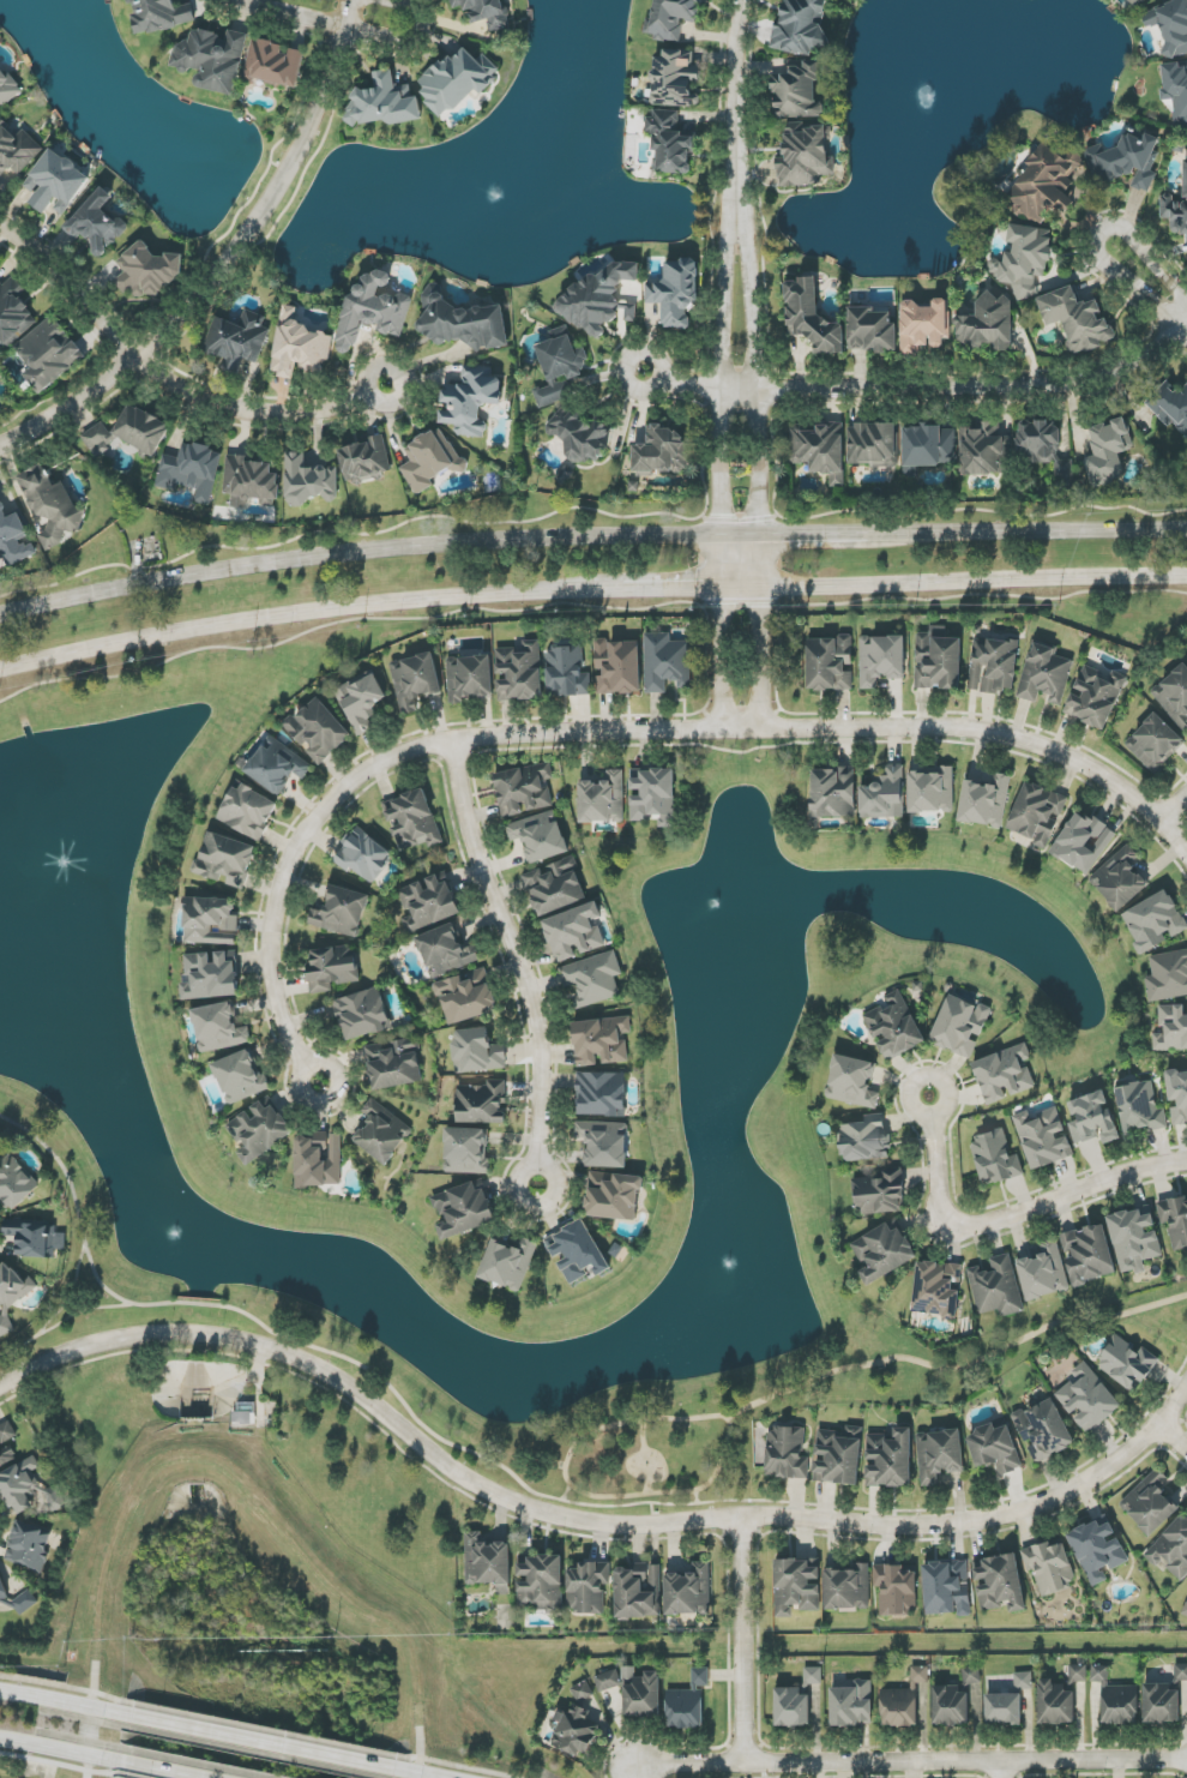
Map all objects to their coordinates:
building: (1137, 2)
building: (483, 12)
building: (159, 14)
building: (673, 18)
building: (1170, 25)
building: (800, 26)
road: (351, 31)
building: (212, 59)
building: (273, 64)
building: (458, 79)
building: (675, 79)
road: (734, 82)
building: (1176, 89)
building: (797, 90)
building: (382, 102)
building: (670, 142)
building: (17, 150)
building: (805, 156)
building: (1126, 161)
building: (1047, 182)
building: (56, 184)
building: (1176, 209)
building: (97, 223)
road: (1093, 244)
building: (1024, 259)
road: (228, 264)
building: (147, 271)
building: (629, 293)
building: (676, 293)
building: (599, 299)
building: (373, 310)
building: (13, 313)
building: (812, 317)
building: (1077, 319)
building: (463, 322)
building: (988, 324)
building: (924, 325)
building: (872, 330)
building: (237, 340)
building: (300, 346)
building: (49, 354)
building: (559, 366)
road: (405, 374)
road: (159, 376)
road: (757, 377)
road: (663, 379)
road: (933, 388)
building: (471, 400)
building: (1171, 407)
building: (131, 432)
building: (579, 438)
building: (873, 445)
road: (721, 447)
building: (928, 447)
building: (820, 449)
building: (1044, 449)
building: (984, 450)
building: (661, 451)
building: (1108, 452)
building: (366, 459)
building: (432, 459)
building: (192, 470)
building: (252, 481)
building: (309, 481)
building: (52, 506)
road: (1026, 533)
road: (793, 536)
road: (357, 554)
road: (972, 582)
road: (697, 590)
road: (314, 613)
road: (355, 621)
road: (760, 659)
building: (881, 660)
building: (939, 660)
building: (667, 662)
building: (830, 663)
building: (994, 666)
building: (617, 667)
building: (520, 672)
building: (567, 672)
building: (1046, 674)
building: (470, 678)
building: (416, 680)
building: (1096, 696)
building: (1174, 696)
building: (362, 701)
building: (318, 731)
road: (994, 734)
building: (1155, 743)
road: (385, 759)
building: (277, 765)
building: (524, 789)
building: (932, 791)
building: (833, 792)
building: (884, 794)
building: (653, 795)
building: (603, 799)
building: (986, 801)
road: (1173, 809)
building: (248, 811)
building: (1037, 813)
building: (540, 836)
building: (1083, 842)
building: (363, 855)
building: (225, 860)
building: (1120, 879)
fountain: (60, 882)
building: (555, 887)
building: (429, 902)
building: (342, 912)
fountain: (736, 913)
building: (210, 920)
building: (1155, 921)
building: (574, 932)
building: (446, 951)
road: (518, 960)
building: (332, 968)
building: (211, 975)
building: (1168, 977)
building: (593, 979)
building: (466, 996)
building: (363, 1014)
building: (960, 1026)
building: (894, 1027)
building: (219, 1028)
building: (1171, 1028)
building: (602, 1041)
building: (477, 1051)
building: (394, 1063)
building: (1005, 1074)
building: (241, 1076)
building: (852, 1082)
building: (602, 1094)
building: (1177, 1097)
building: (482, 1103)
building: (1139, 1109)
building: (1092, 1119)
building: (260, 1130)
building: (381, 1133)
building: (1043, 1137)
building: (866, 1139)
building: (604, 1143)
building: (466, 1151)
building: (996, 1158)
building: (319, 1160)
building: (16, 1183)
building: (881, 1194)
building: (614, 1196)
building: (464, 1209)
road: (1008, 1215)
fountain: (161, 1218)
building: (1175, 1220)
building: (36, 1238)
building: (1134, 1238)
building: (884, 1251)
building: (578, 1253)
building: (1087, 1254)
building: (508, 1263)
building: (1043, 1273)
fountain: (724, 1283)
building: (998, 1287)
building: (938, 1289)
building: (12, 1295)
road: (85, 1311)
road: (58, 1315)
road: (132, 1338)
building: (1127, 1363)
road: (959, 1370)
road: (259, 1382)
building: (1087, 1399)
building: (245, 1417)
building: (1043, 1430)
road: (1173, 1440)
building: (6, 1443)
building: (995, 1448)
building: (787, 1454)
building: (939, 1454)
building: (838, 1456)
road: (647, 1458)
building: (891, 1459)
building: (20, 1486)
road: (576, 1490)
road: (567, 1495)
road: (536, 1496)
building: (54, 1498)
road: (697, 1498)
building: (1150, 1503)
road: (652, 1515)
road: (728, 1520)
building: (29, 1546)
building: (1171, 1549)
building: (1097, 1550)
building: (488, 1563)
building: (1049, 1567)
building: (542, 1582)
building: (1000, 1582)
building: (796, 1586)
building: (588, 1587)
building: (846, 1587)
building: (897, 1588)
building: (946, 1588)
building: (638, 1591)
building: (689, 1591)
building: (25, 1602)
building: (1185, 1610)
road: (745, 1642)
building: (1078, 1672)
building: (1180, 1672)
building: (813, 1675)
building: (607, 1681)
building: (1023, 1681)
building: (641, 1693)
building: (1116, 1699)
road: (62, 1700)
building: (954, 1700)
building: (904, 1701)
building: (688, 1702)
building: (1055, 1704)
building: (1161, 1704)
building: (851, 1705)
building: (791, 1707)
building: (1004, 1708)
building: (577, 1725)
road: (260, 1735)
road: (64, 1748)
road: (911, 1762)
road: (183, 1766)
road: (430, 1770)
road: (1004, 1770)

